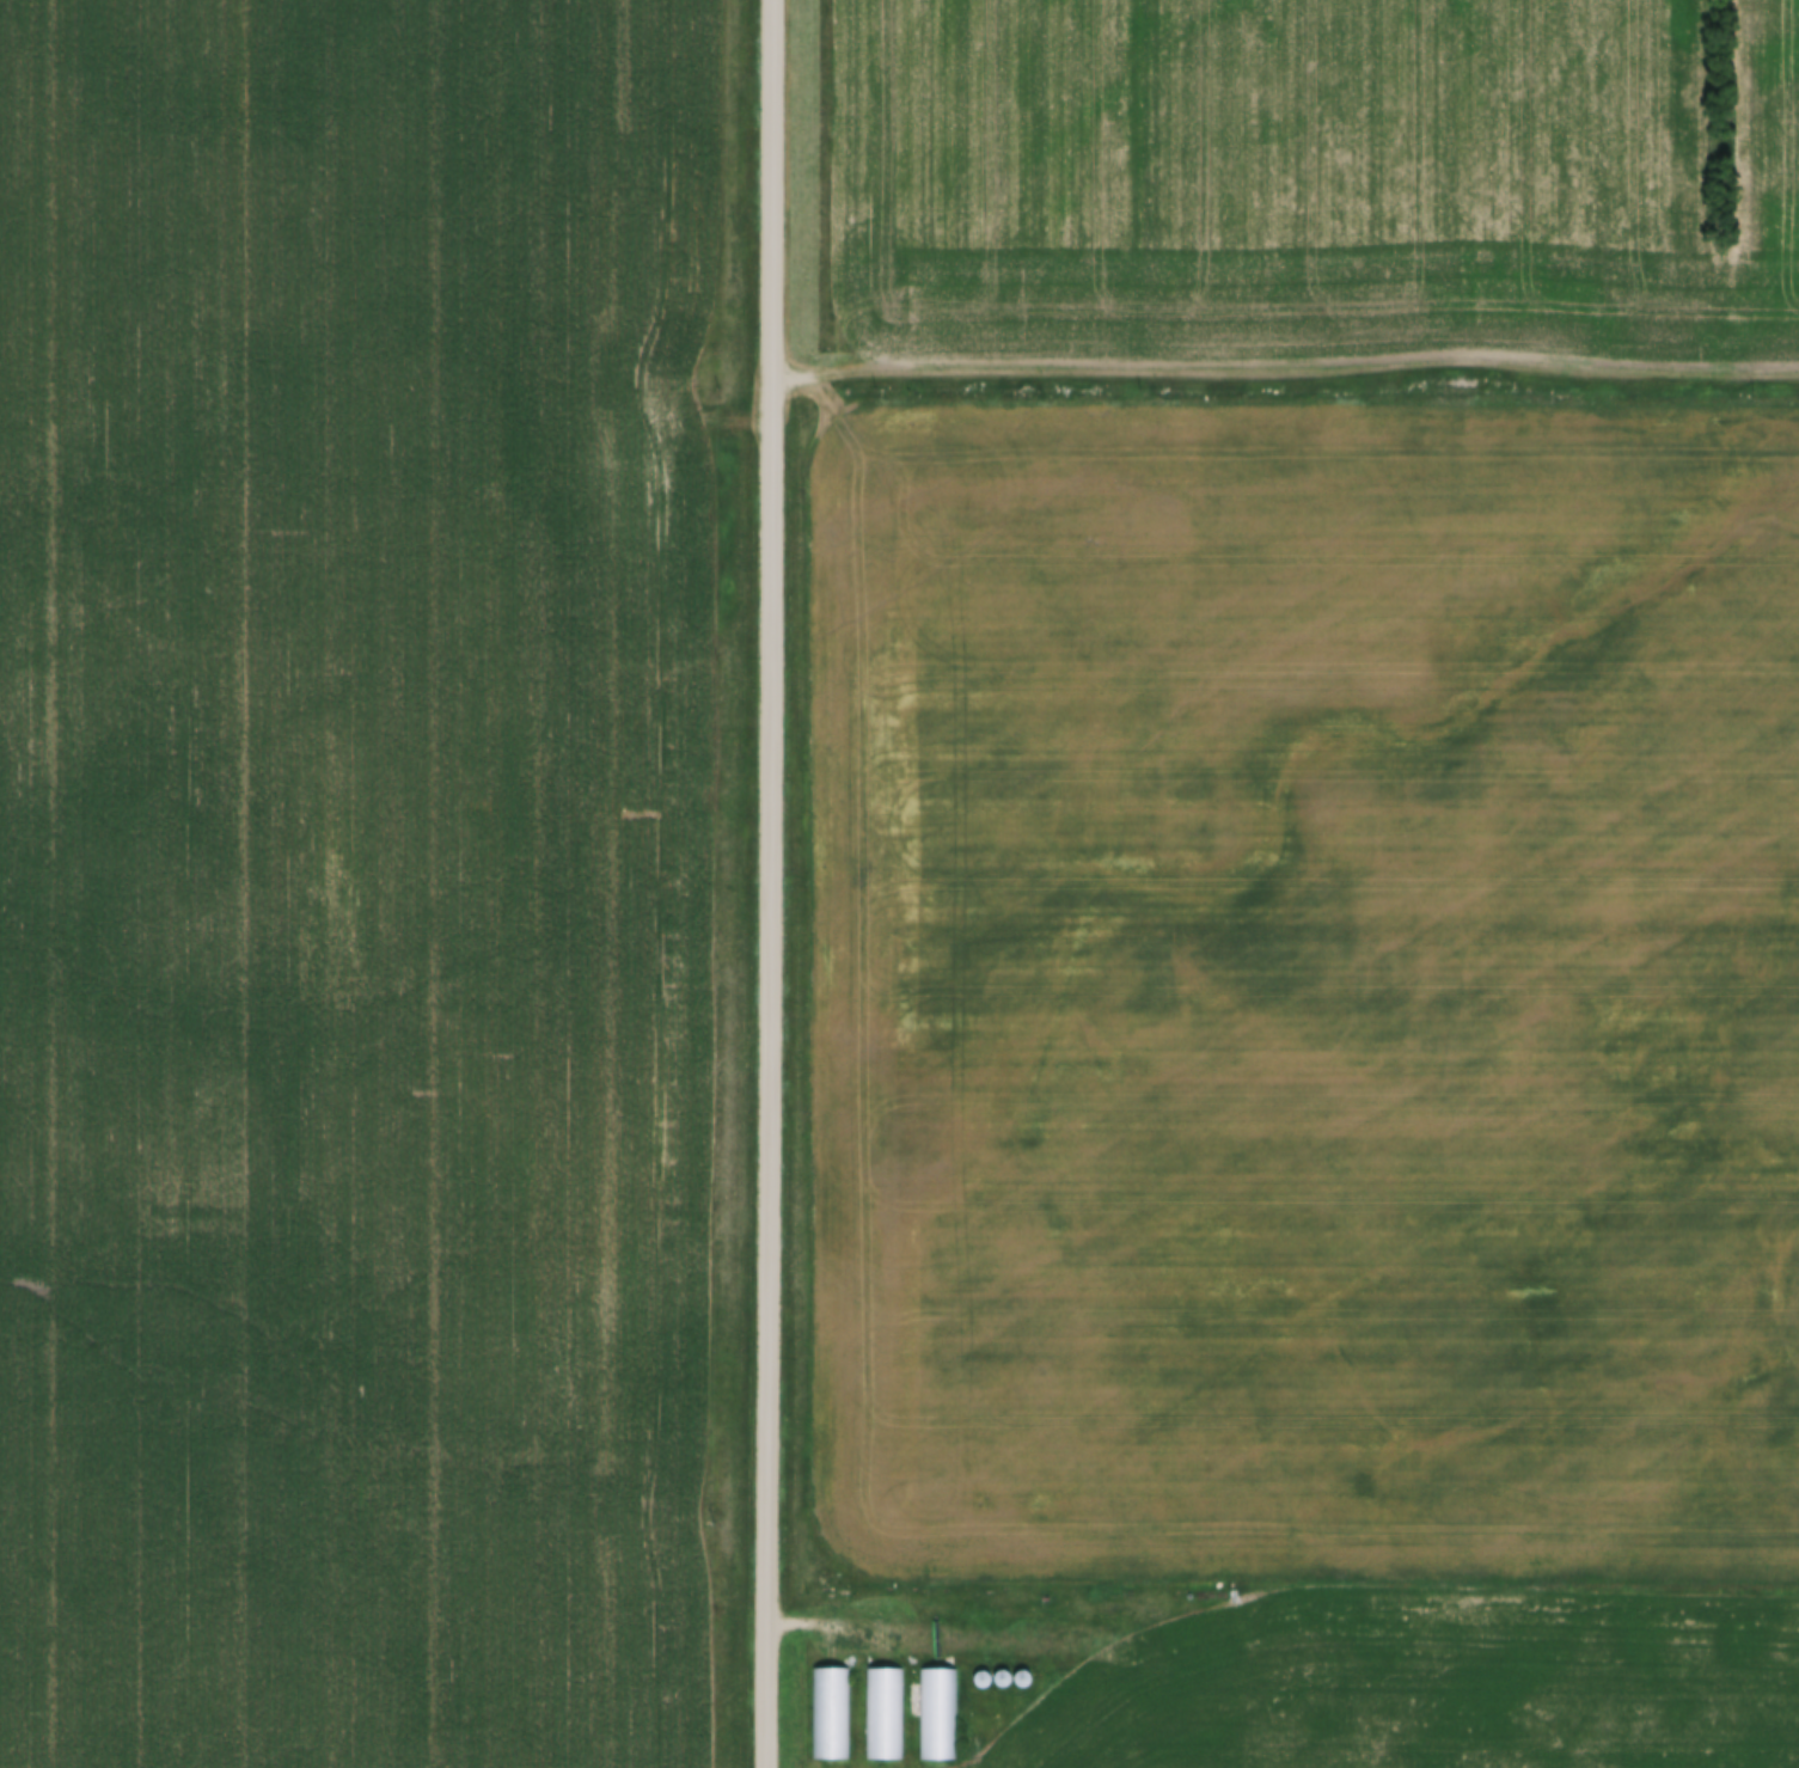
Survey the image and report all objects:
road: (1284, 361)
road: (769, 883)
road: (852, 1628)
building: (1026, 1669)
silo: (1026, 1669)
building: (985, 1670)
silo: (985, 1670)
building: (1005, 1670)
silo: (1005, 1670)
building: (1014, 1682)
building: (834, 1706)
building: (888, 1706)
building: (941, 1706)

